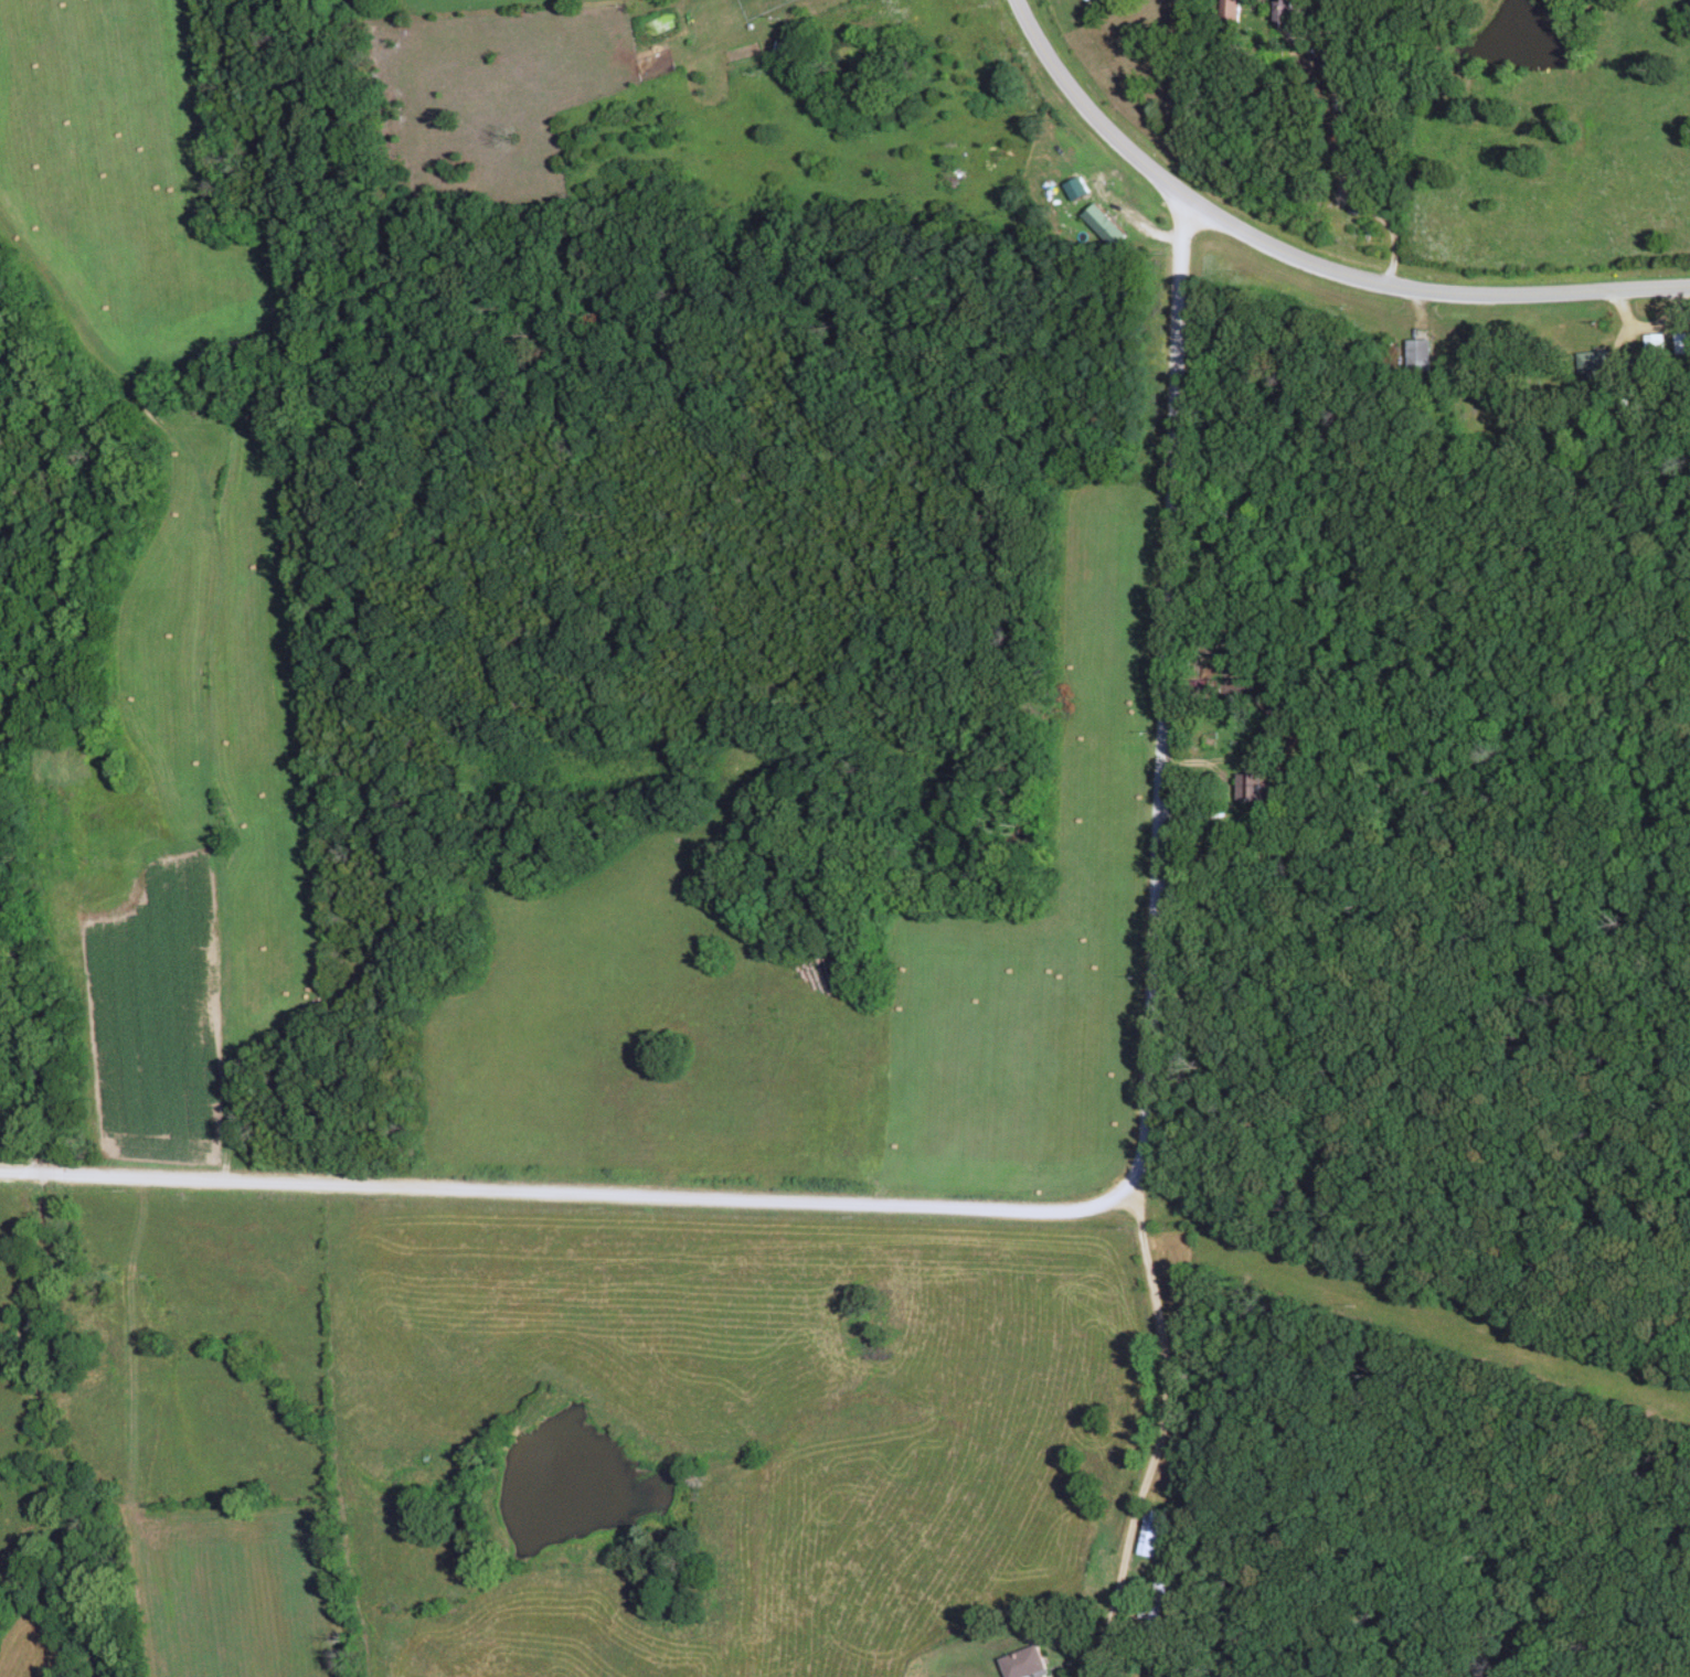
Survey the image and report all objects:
building: (1230, 11)
building: (1288, 12)
road: (1347, 161)
road: (1301, 261)
building: (1680, 345)
building: (1651, 350)
building: (1418, 356)
building: (1593, 365)
road: (1230, 759)
road: (1065, 1207)
road: (1158, 1433)
building: (1156, 1534)
building: (1154, 1605)
building: (1024, 1664)

